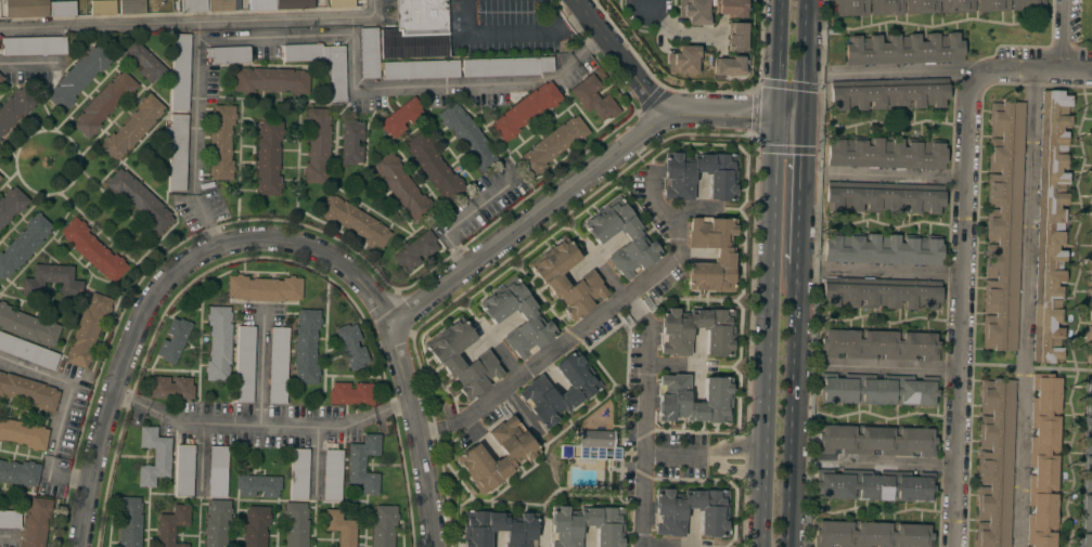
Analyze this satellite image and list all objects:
building: (341, 3)
road: (650, 3)
building: (260, 4)
building: (294, 4)
building: (193, 5)
building: (220, 5)
building: (131, 6)
building: (927, 6)
building: (25, 8)
building: (103, 8)
building: (62, 9)
building: (731, 9)
building: (694, 11)
road: (193, 24)
building: (416, 30)
road: (679, 30)
road: (510, 35)
road: (1062, 35)
building: (735, 38)
building: (33, 45)
building: (902, 49)
building: (301, 52)
building: (369, 53)
building: (228, 54)
road: (804, 55)
road: (775, 56)
road: (621, 60)
building: (683, 60)
building: (143, 62)
road: (27, 63)
road: (196, 66)
building: (506, 66)
building: (728, 66)
building: (420, 69)
road: (1031, 69)
building: (180, 73)
road: (904, 73)
building: (336, 75)
building: (0, 77)
building: (78, 77)
building: (271, 80)
road: (452, 87)
building: (887, 96)
building: (593, 99)
building: (103, 104)
building: (14, 108)
building: (525, 110)
building: (401, 117)
building: (132, 127)
building: (467, 136)
building: (220, 142)
building: (351, 142)
building: (553, 144)
building: (317, 145)
building: (178, 153)
building: (884, 154)
building: (268, 158)
building: (1091, 162)
building: (434, 167)
road: (899, 177)
building: (0, 178)
road: (583, 181)
building: (677, 183)
building: (402, 187)
road: (799, 188)
building: (884, 197)
building: (139, 200)
road: (654, 200)
building: (1091, 203)
building: (11, 204)
road: (461, 216)
building: (1091, 218)
building: (354, 221)
building: (1002, 225)
building: (1051, 226)
building: (634, 238)
building: (1091, 238)
road: (676, 243)
building: (24, 244)
building: (882, 249)
building: (92, 250)
building: (415, 250)
building: (723, 256)
building: (1091, 266)
road: (604, 273)
road: (895, 273)
building: (52, 281)
building: (551, 281)
building: (264, 288)
building: (881, 292)
building: (1091, 305)
road: (1025, 308)
road: (961, 312)
building: (529, 317)
building: (27, 326)
building: (87, 329)
road: (766, 329)
building: (675, 331)
building: (174, 340)
building: (218, 343)
building: (879, 343)
building: (350, 344)
building: (1089, 344)
building: (306, 346)
building: (27, 351)
road: (126, 355)
road: (400, 356)
building: (447, 360)
road: (542, 362)
building: (244, 364)
building: (278, 365)
road: (892, 366)
road: (260, 369)
road: (646, 374)
building: (169, 388)
building: (877, 390)
building: (28, 391)
building: (536, 391)
building: (351, 393)
building: (672, 399)
road: (792, 406)
road: (61, 414)
road: (260, 426)
road: (451, 428)
building: (23, 433)
road: (433, 433)
building: (595, 439)
building: (876, 440)
building: (153, 456)
building: (517, 456)
road: (676, 457)
road: (734, 458)
building: (1043, 460)
building: (994, 463)
building: (363, 464)
road: (890, 464)
building: (184, 470)
building: (217, 471)
building: (1087, 471)
building: (18, 472)
building: (298, 473)
building: (332, 476)
building: (257, 485)
building: (874, 485)
road: (643, 502)
building: (669, 511)
building: (10, 519)
building: (36, 521)
building: (129, 521)
building: (216, 523)
building: (295, 524)
building: (171, 525)
building: (383, 525)
building: (256, 526)
building: (339, 528)
building: (606, 528)
building: (498, 529)
building: (872, 534)
road: (9, 537)

